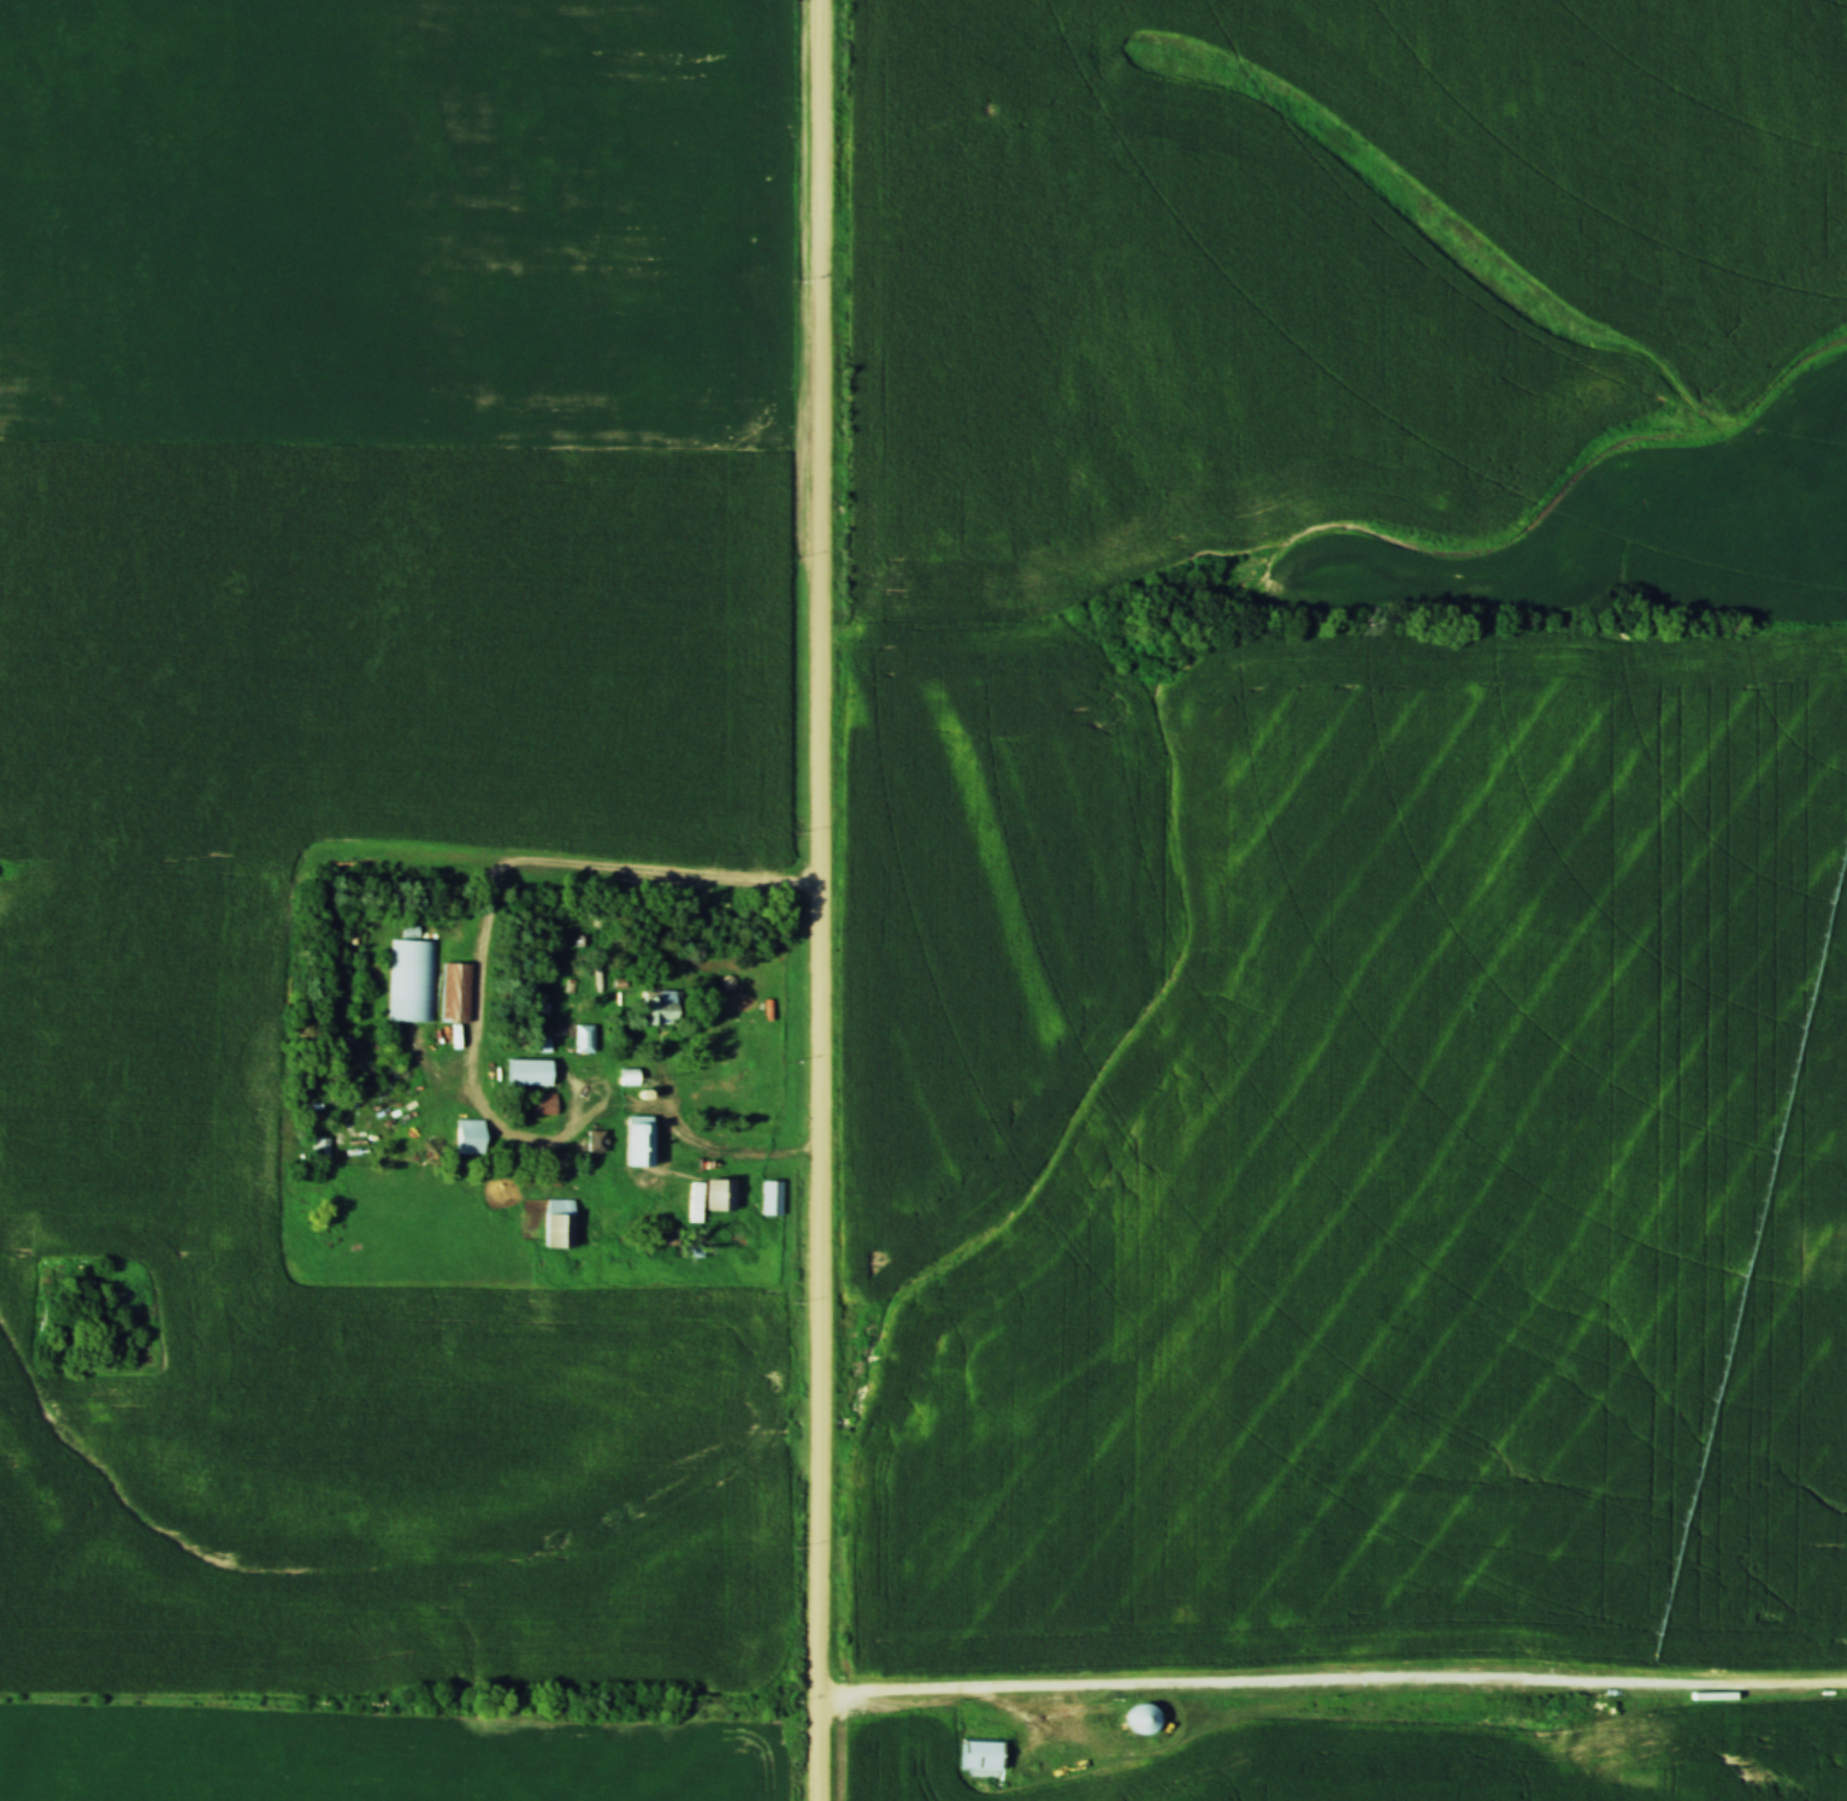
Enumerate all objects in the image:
road: (821, 899)
building: (412, 981)
building: (454, 993)
building: (653, 1009)
building: (582, 1039)
building: (525, 1073)
building: (542, 1104)
road: (689, 1134)
building: (466, 1138)
building: (592, 1141)
building: (635, 1141)
building: (318, 1150)
building: (709, 1197)
building: (768, 1199)
building: (555, 1223)
road: (1333, 1684)
building: (1137, 1719)
building: (974, 1756)

